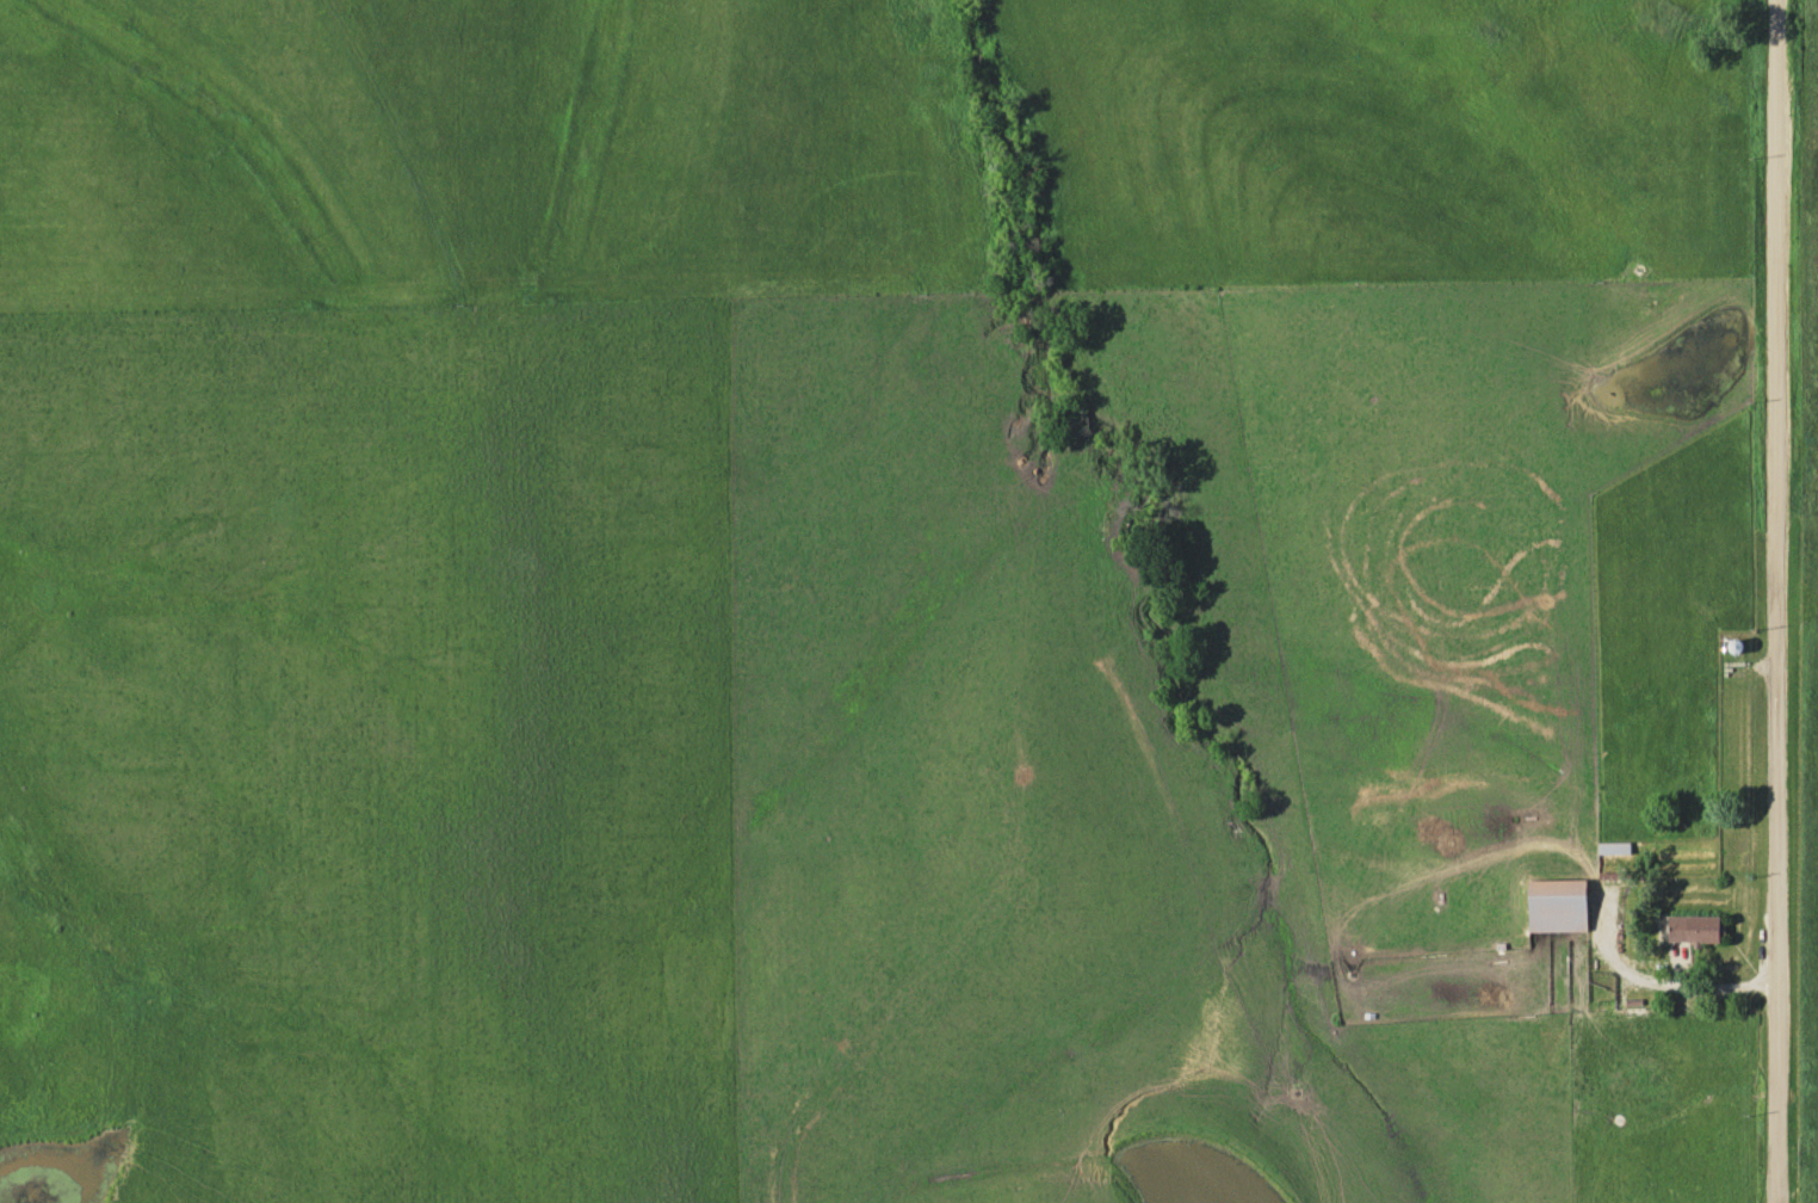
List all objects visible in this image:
road: (1779, 600)
building: (1552, 906)

